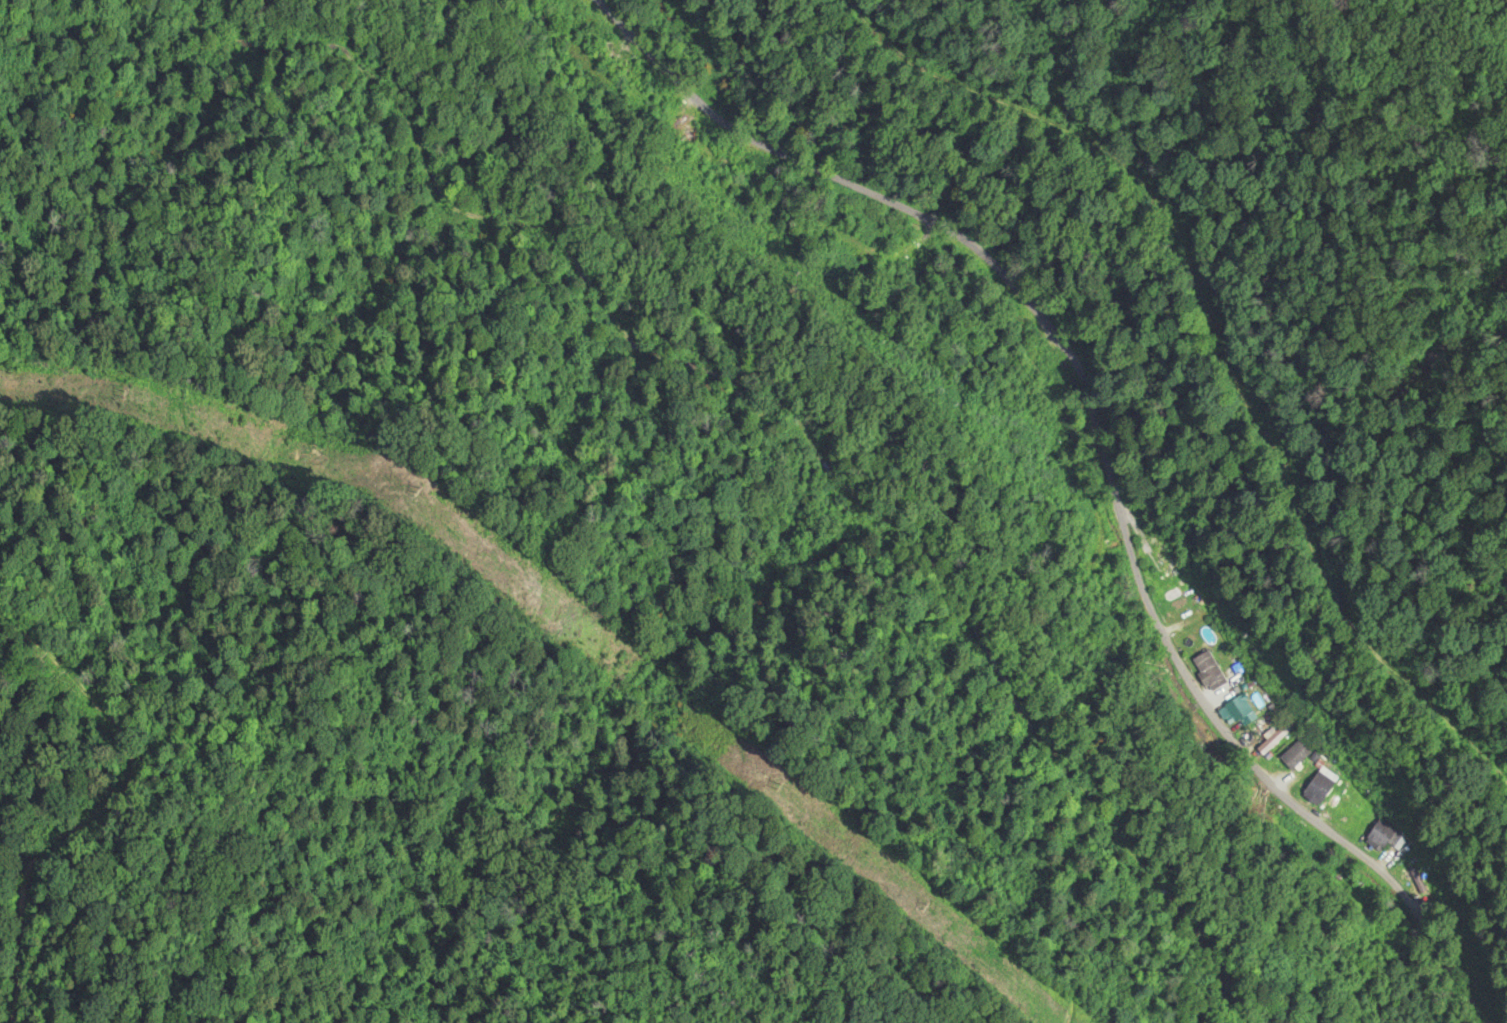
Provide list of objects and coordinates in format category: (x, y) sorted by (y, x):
building: (867, 227)
road: (1099, 445)
building: (1166, 564)
building: (1209, 671)
building: (1240, 711)
building: (1275, 738)
building: (1295, 755)
building: (1320, 789)
building: (1343, 821)
building: (1382, 838)

